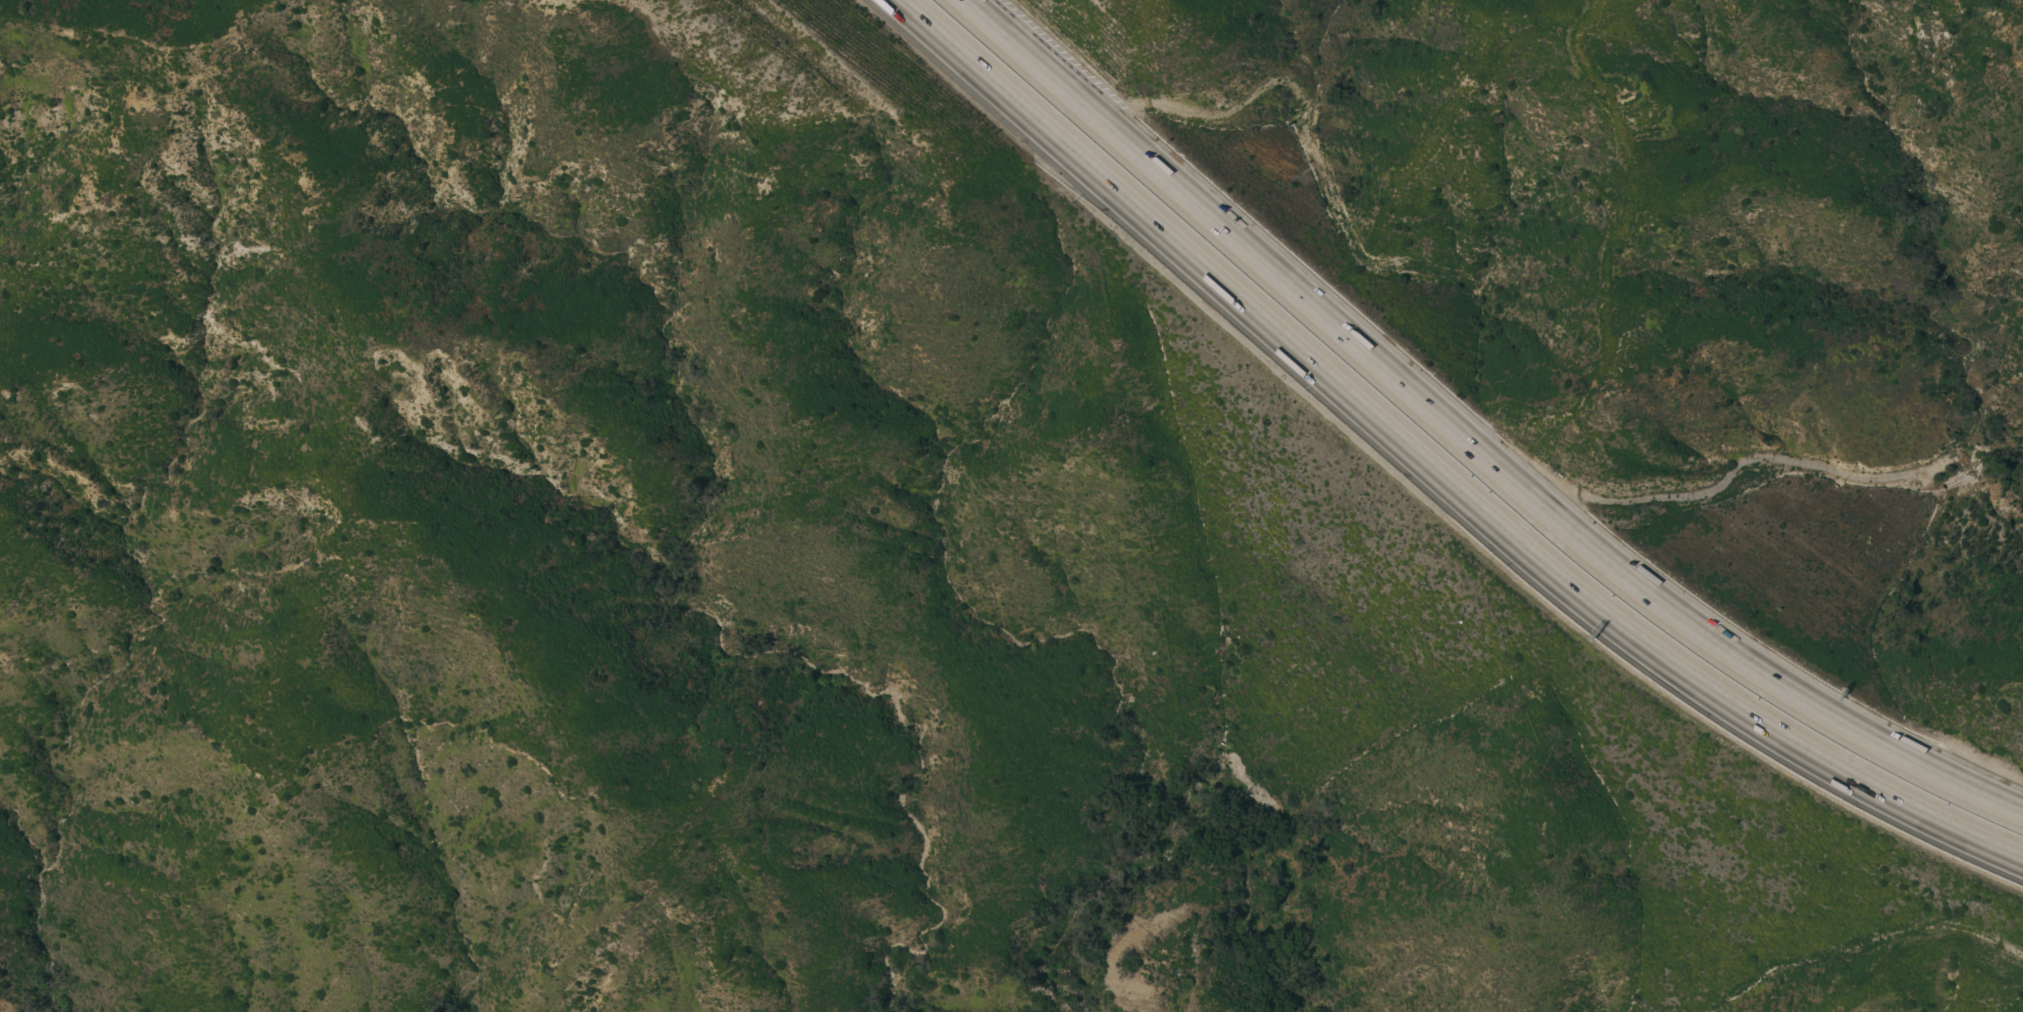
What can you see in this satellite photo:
road: (1474, 434)
road: (1435, 464)

